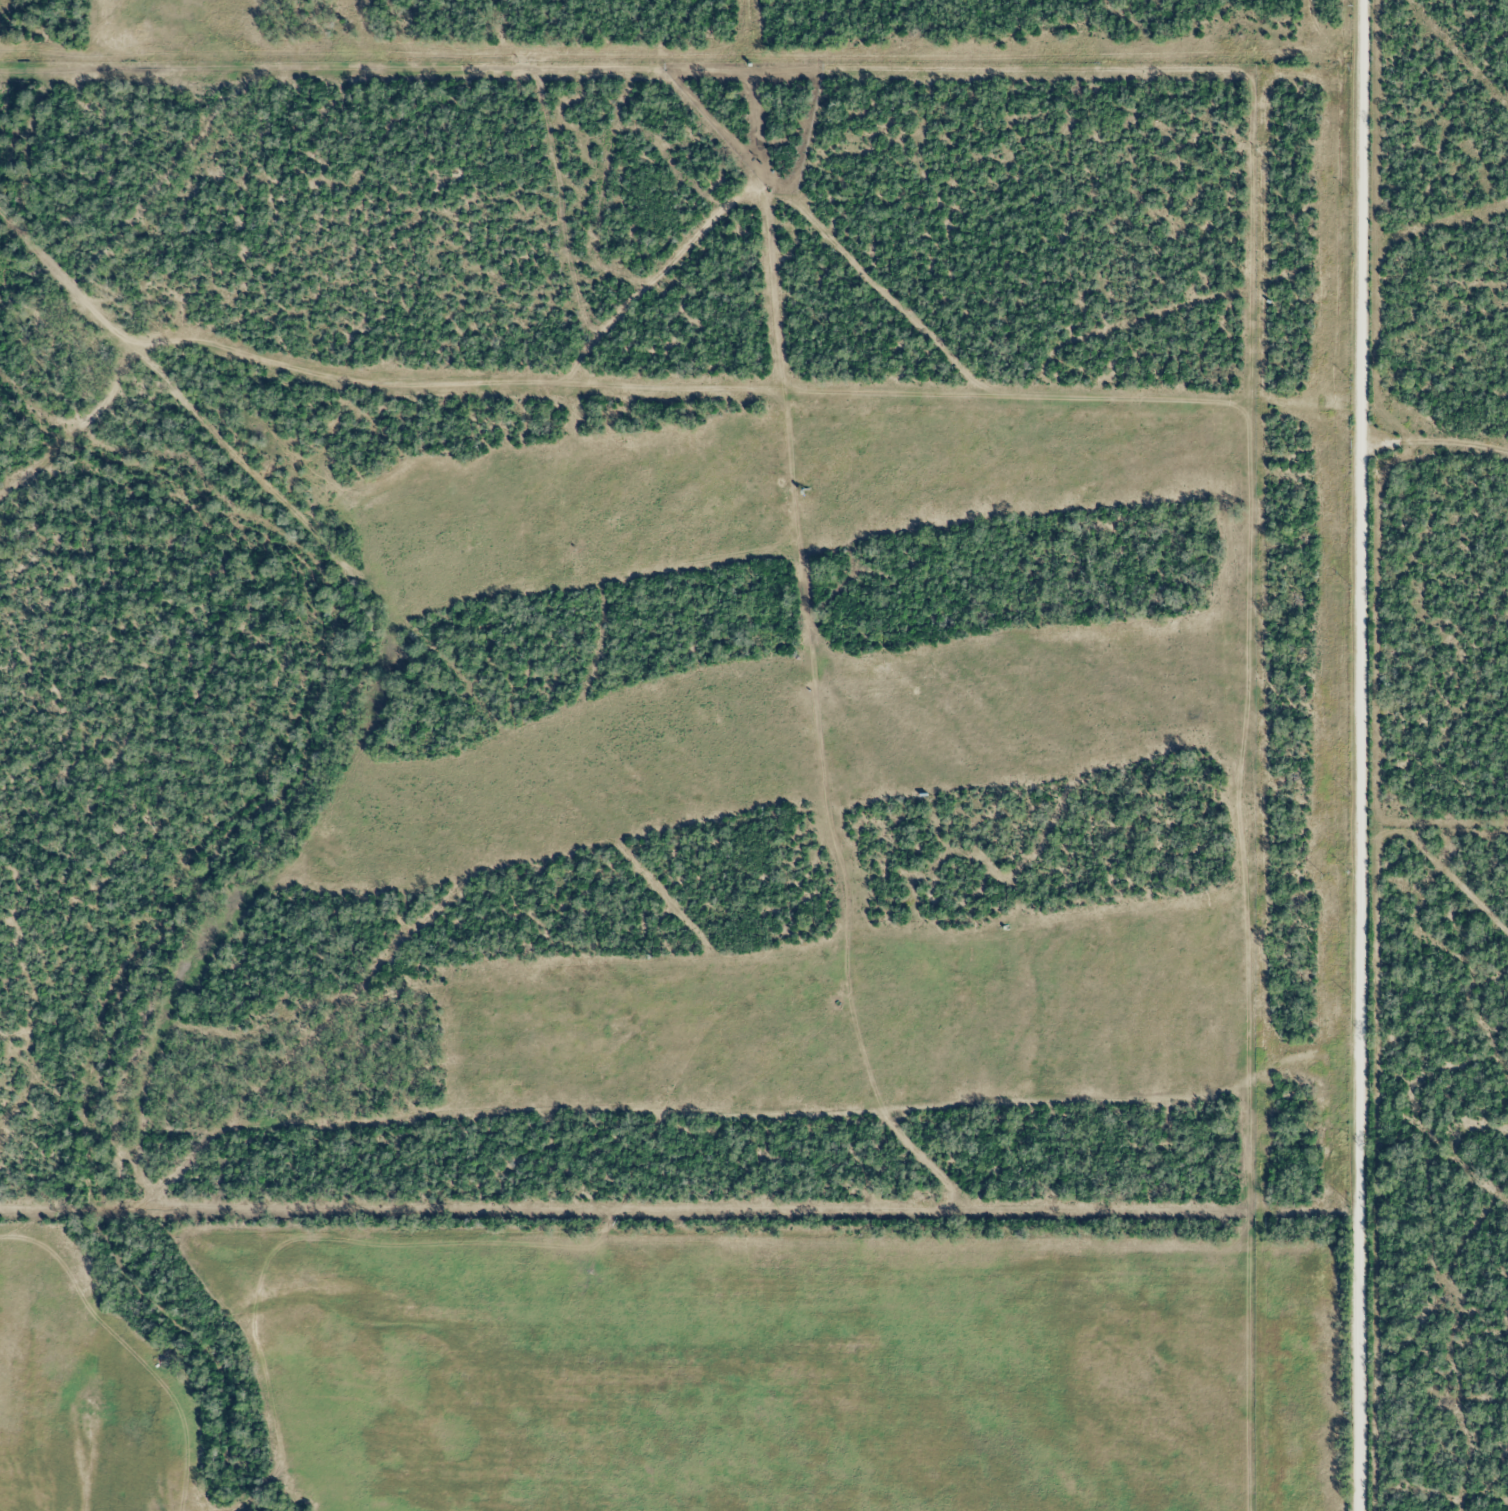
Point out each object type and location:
road: (1361, 755)

